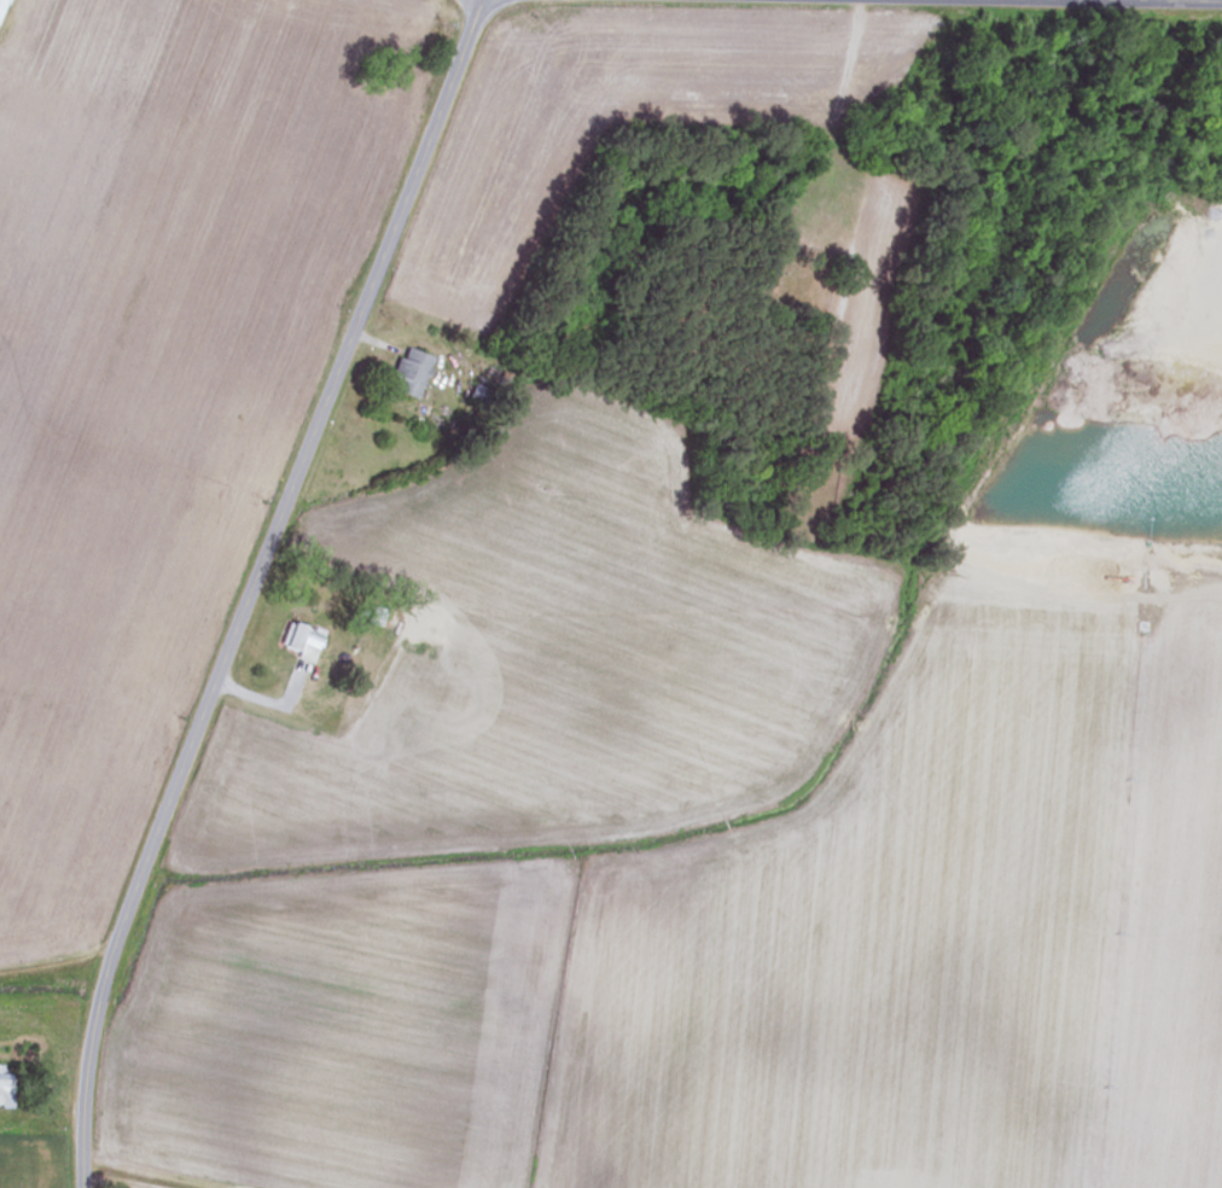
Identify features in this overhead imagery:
road: (1072, 1)
building: (0, 2)
building: (407, 372)
road: (254, 587)
building: (421, 625)
building: (297, 641)
building: (5, 1087)

